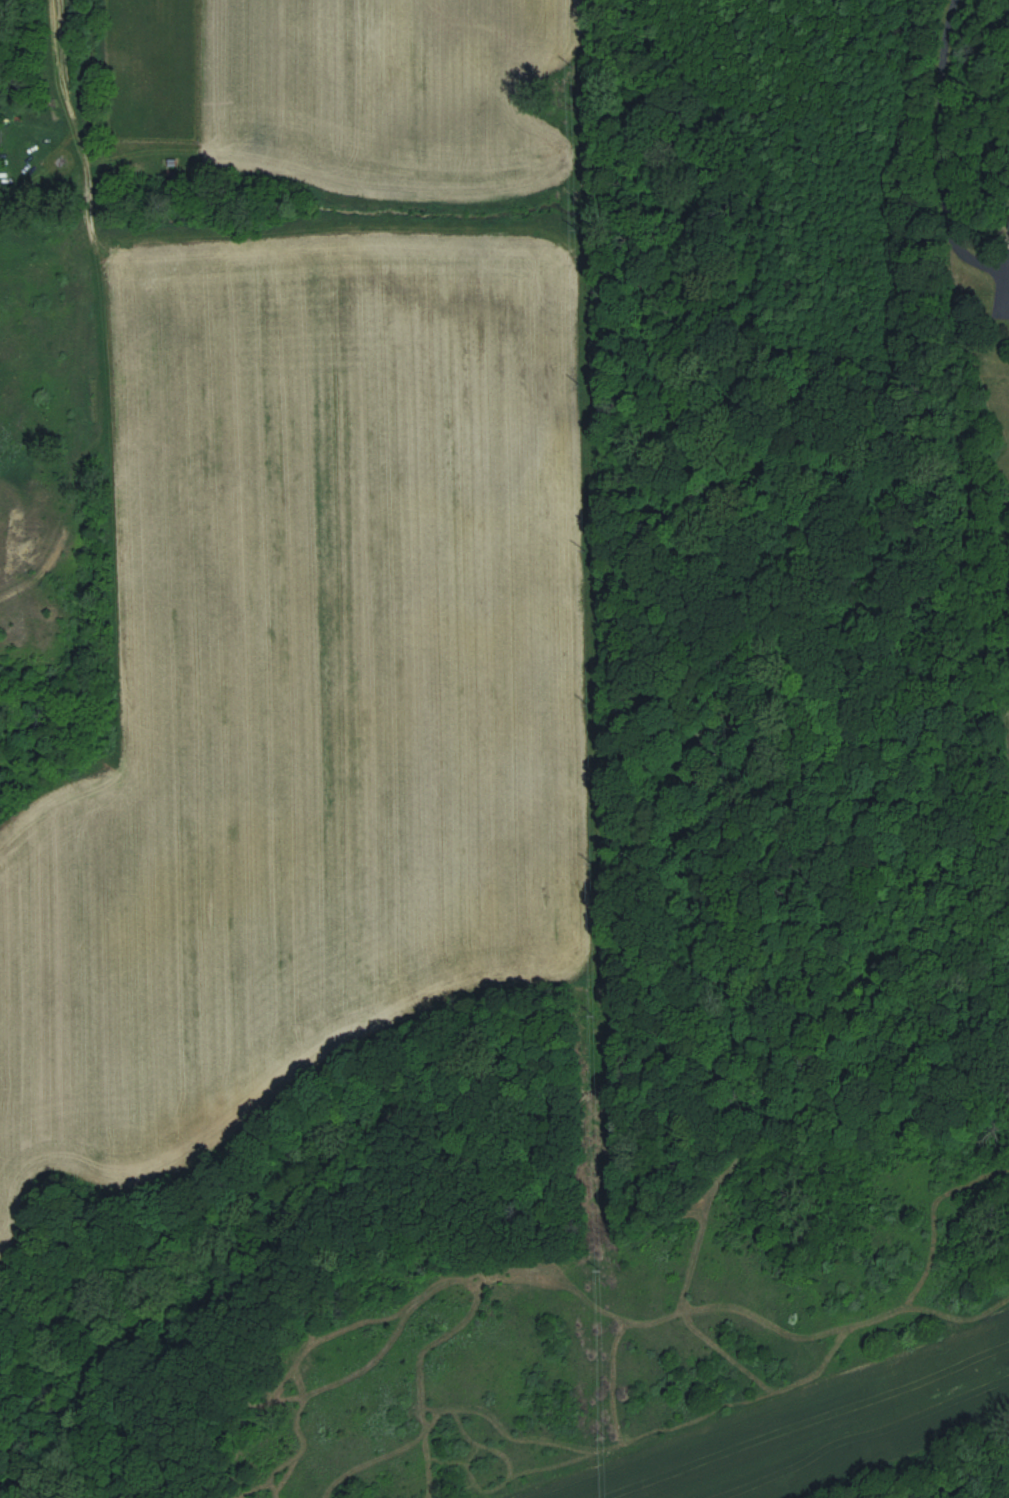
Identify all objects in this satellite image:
road: (937, 155)
road: (78, 314)

